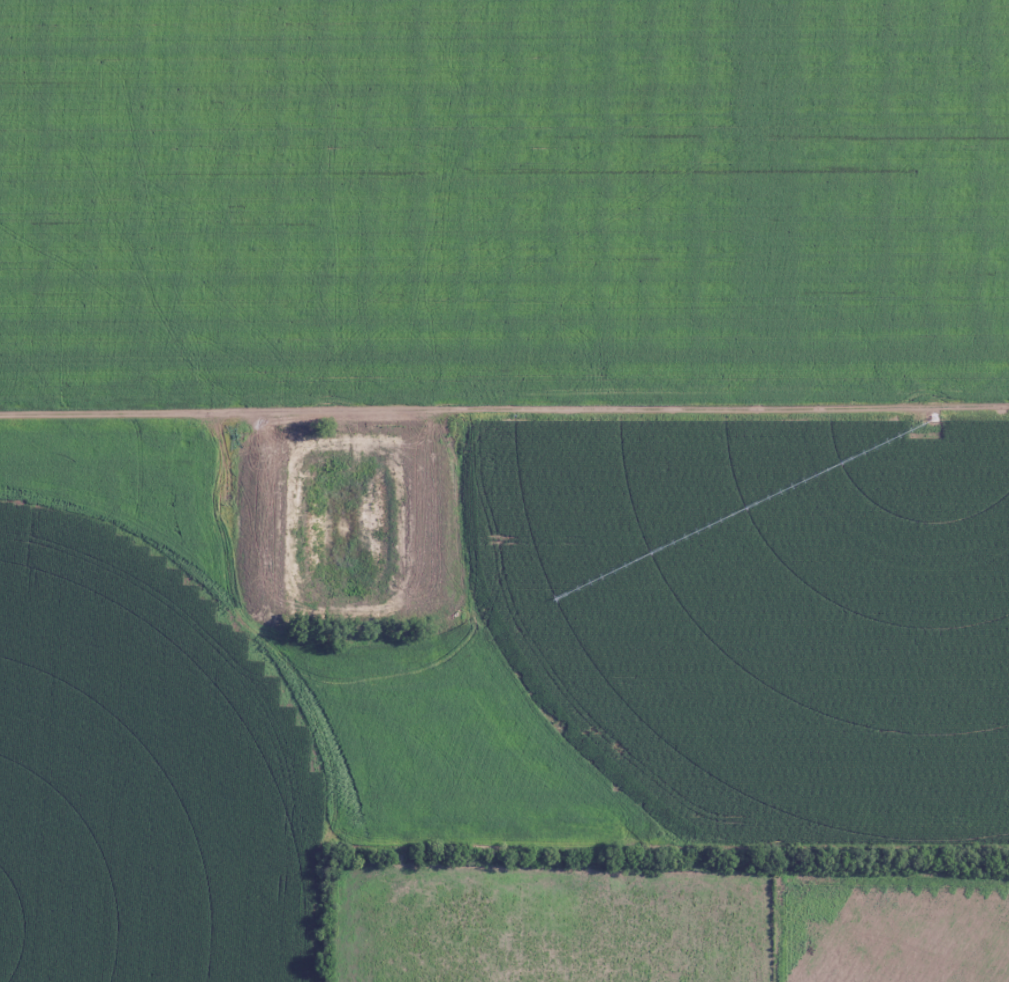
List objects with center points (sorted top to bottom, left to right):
road: (219, 437)

